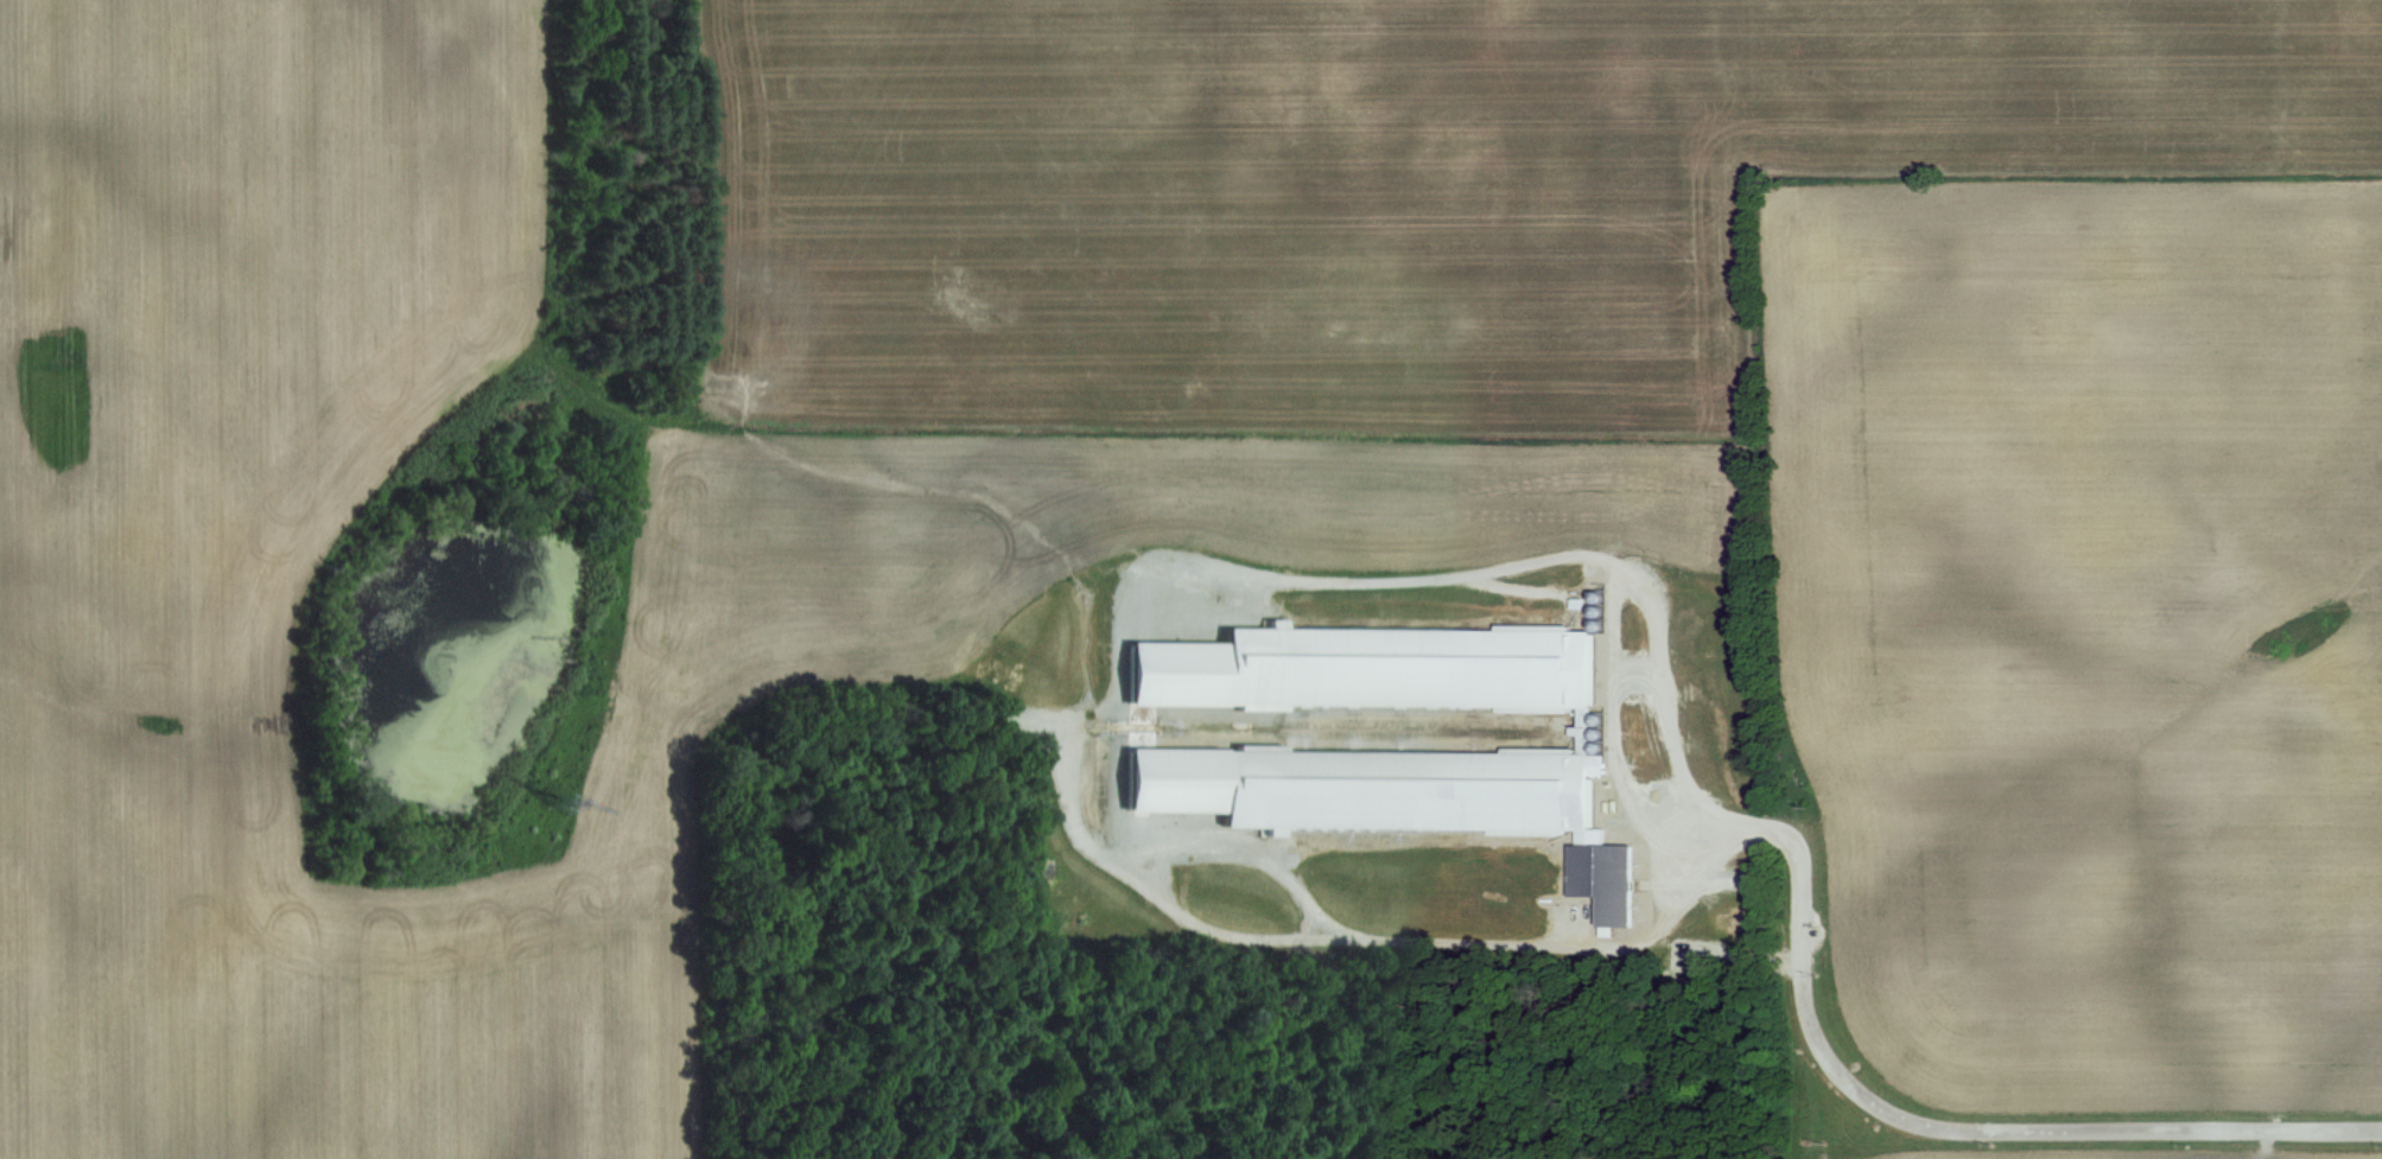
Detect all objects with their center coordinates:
building: (1295, 663)
building: (1535, 667)
building: (1406, 789)
power tower: (559, 804)
building: (1602, 879)

